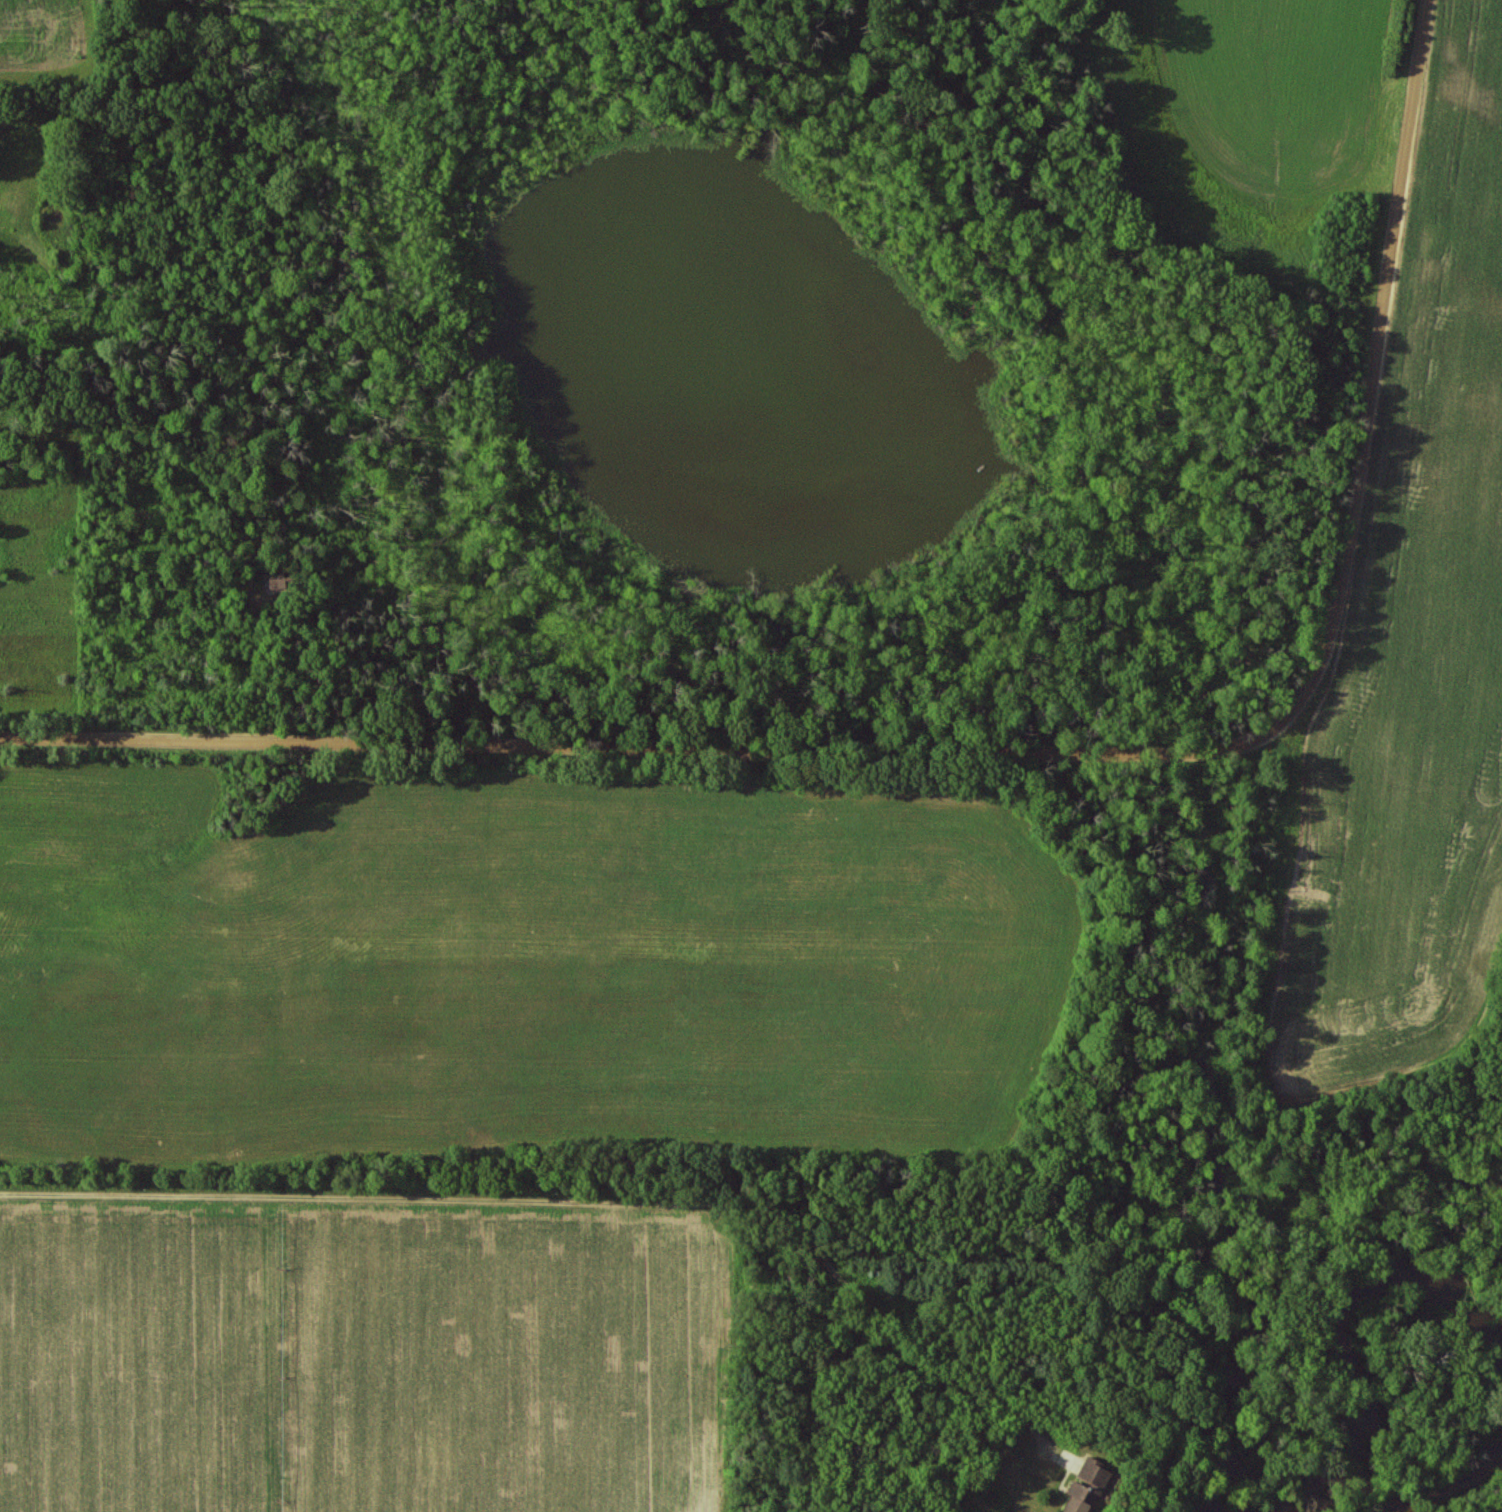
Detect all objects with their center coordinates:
road: (1375, 363)
building: (280, 578)
road: (599, 663)
road: (651, 745)
building: (1078, 1499)

